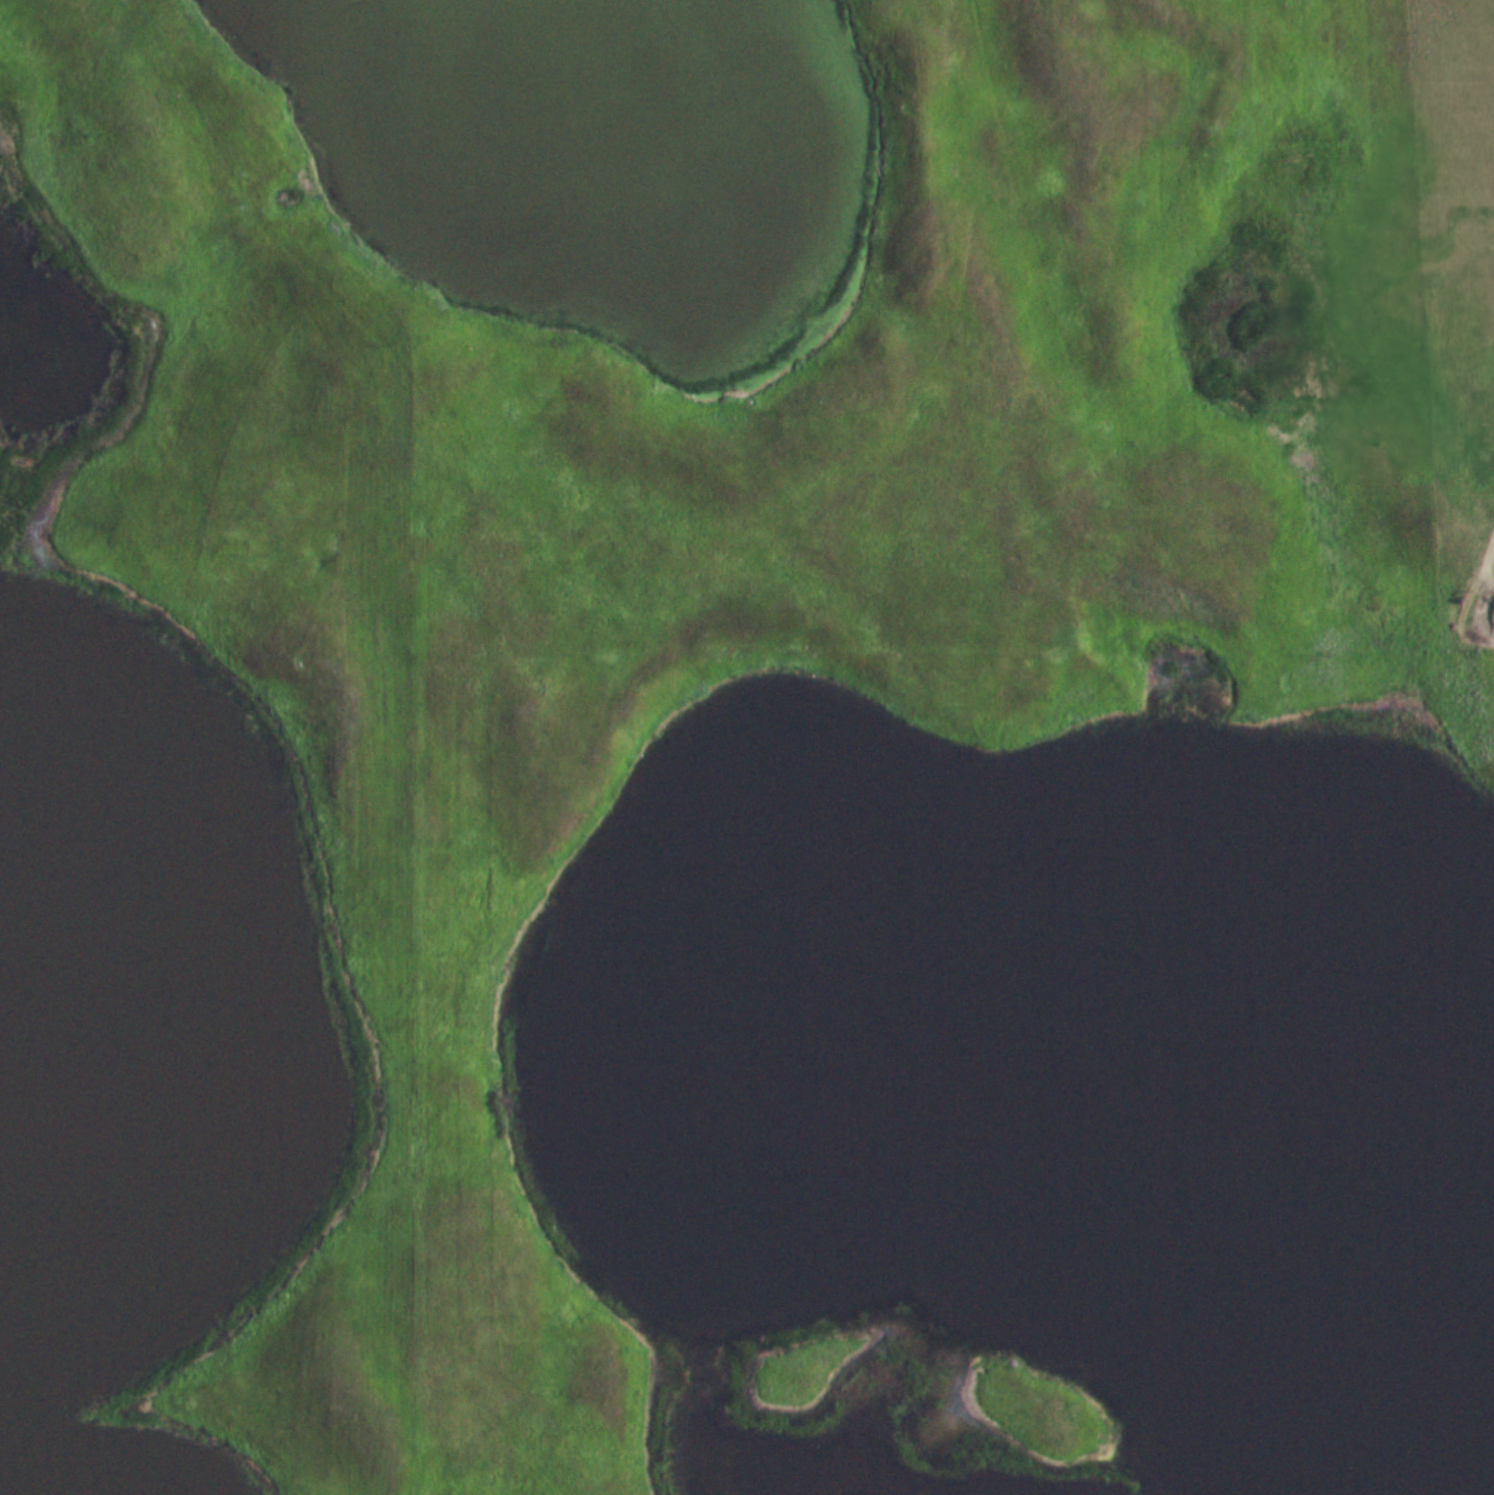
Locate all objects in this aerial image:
road: (1416, 358)

